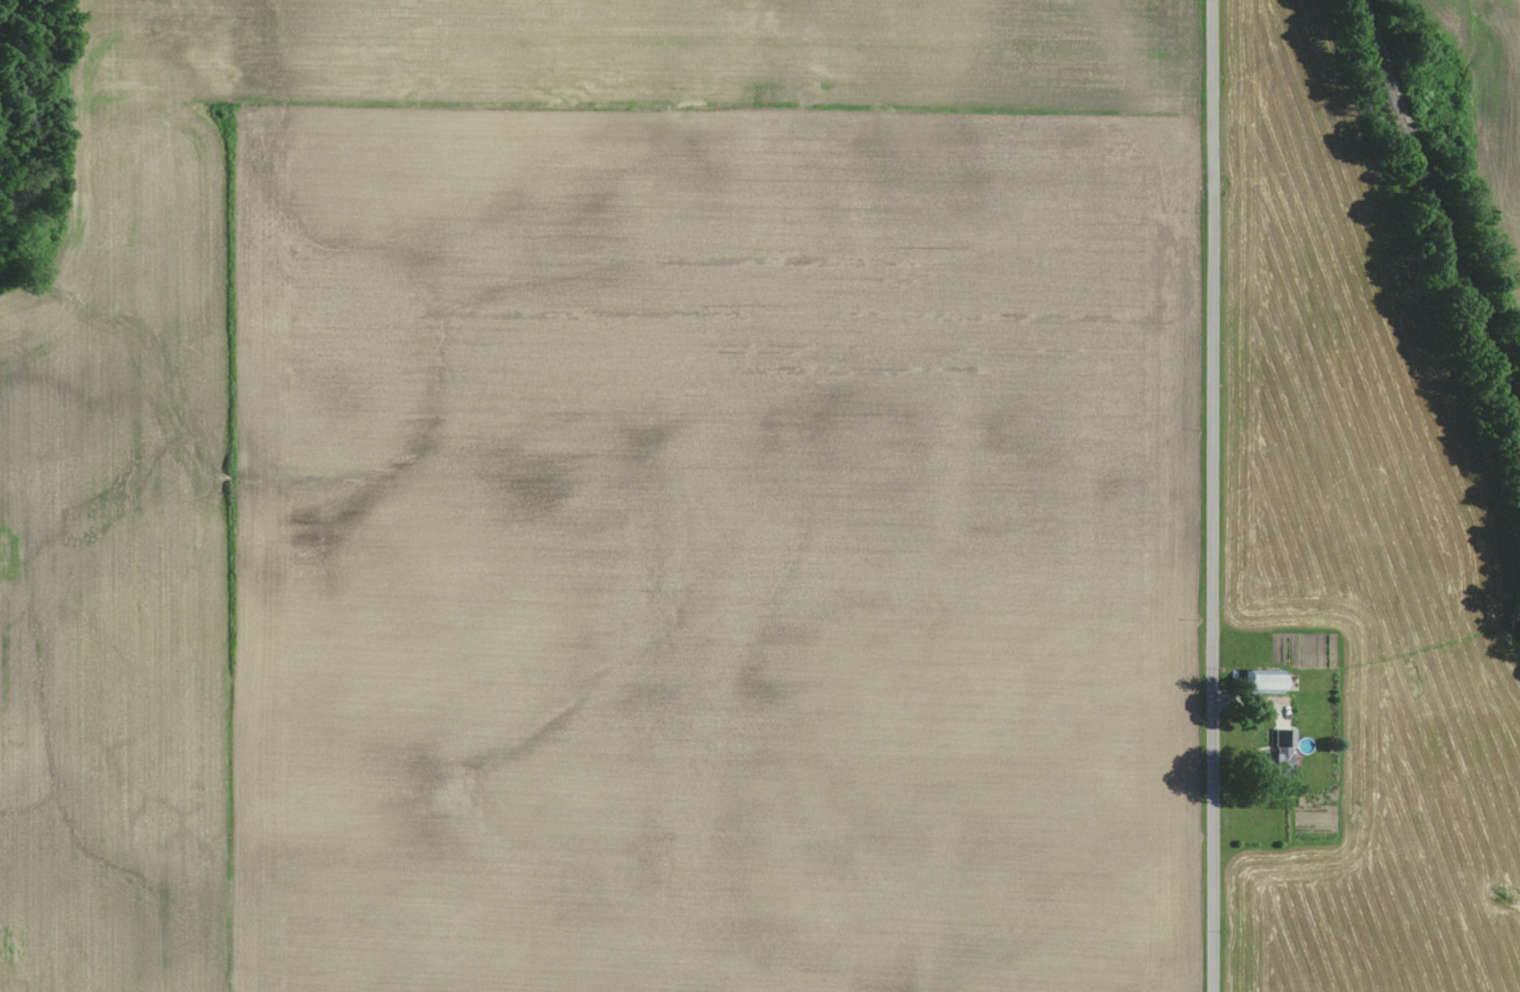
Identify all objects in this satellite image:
railway: (1439, 217)
road: (1212, 495)
building: (1268, 682)
building: (1286, 750)

